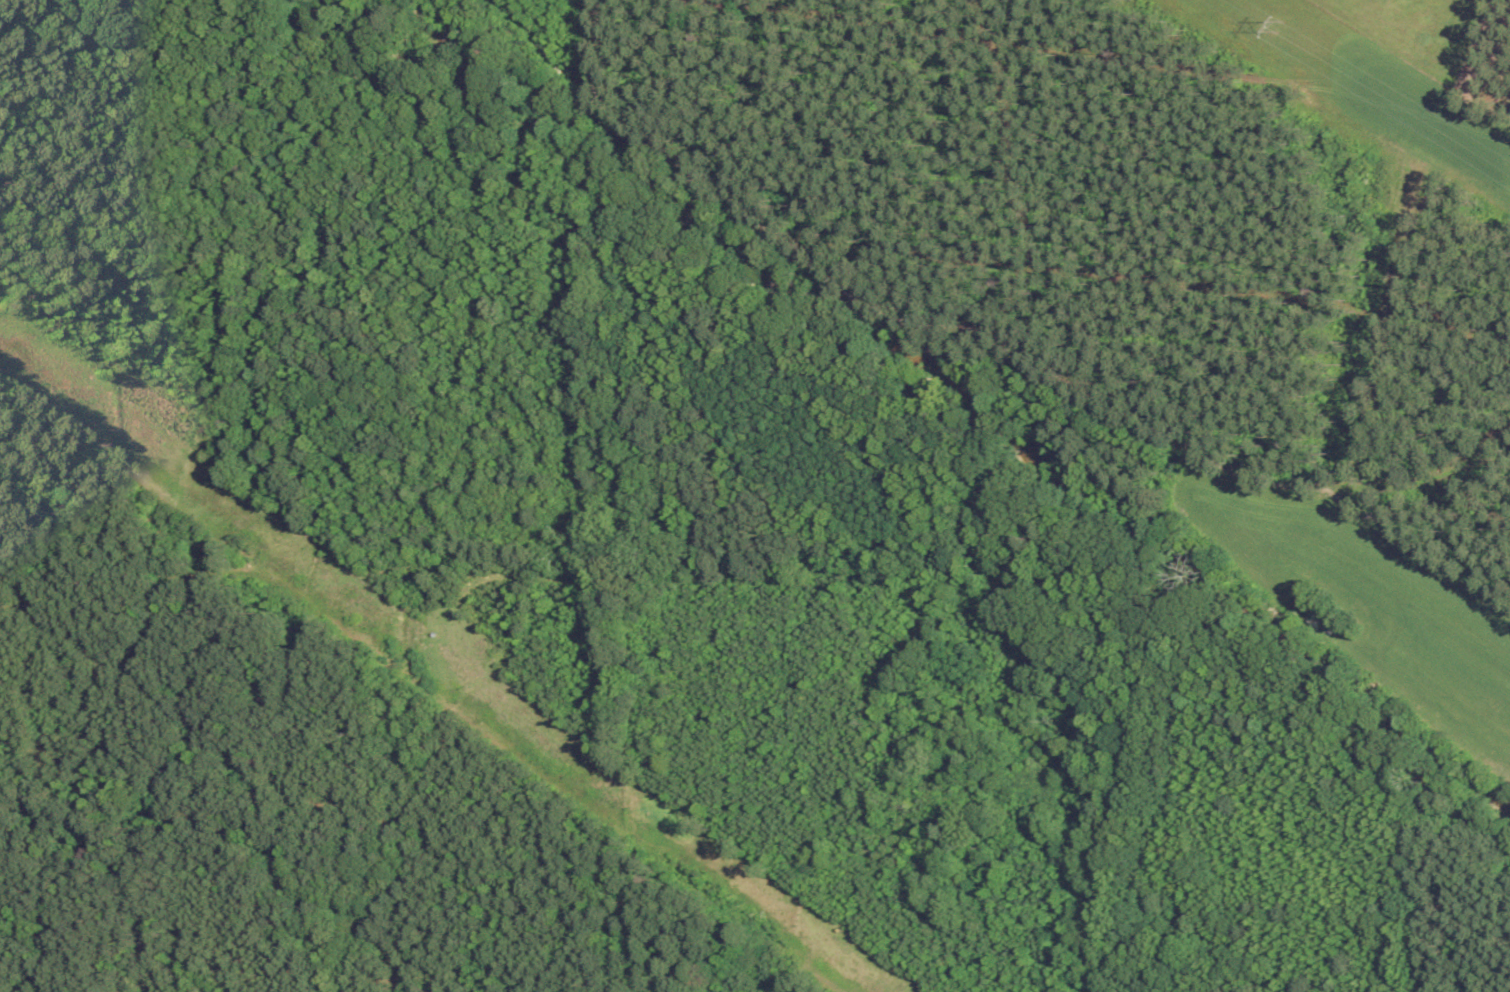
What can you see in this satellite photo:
power tower: (1276, 26)

